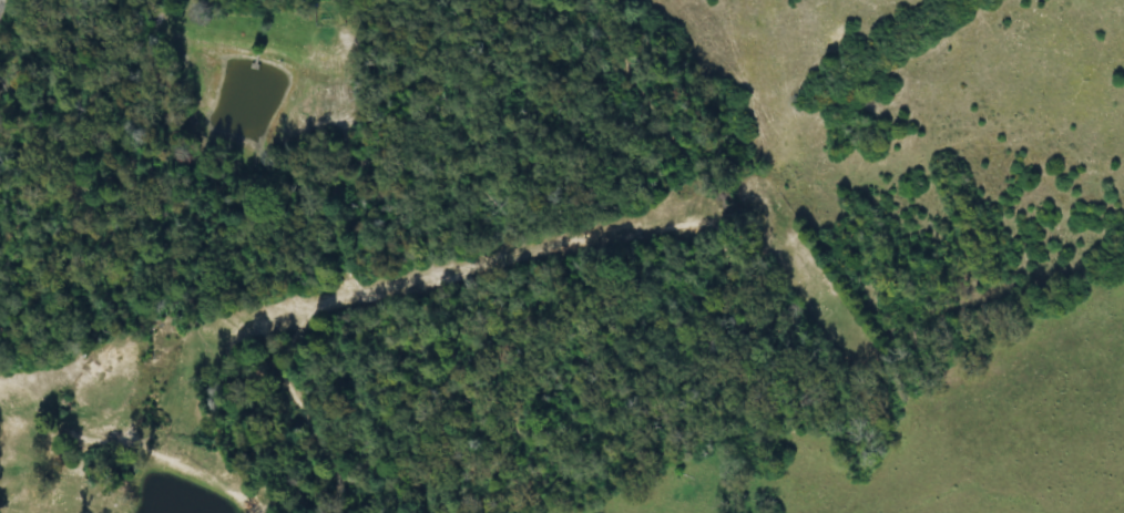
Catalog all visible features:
road: (1108, 453)

